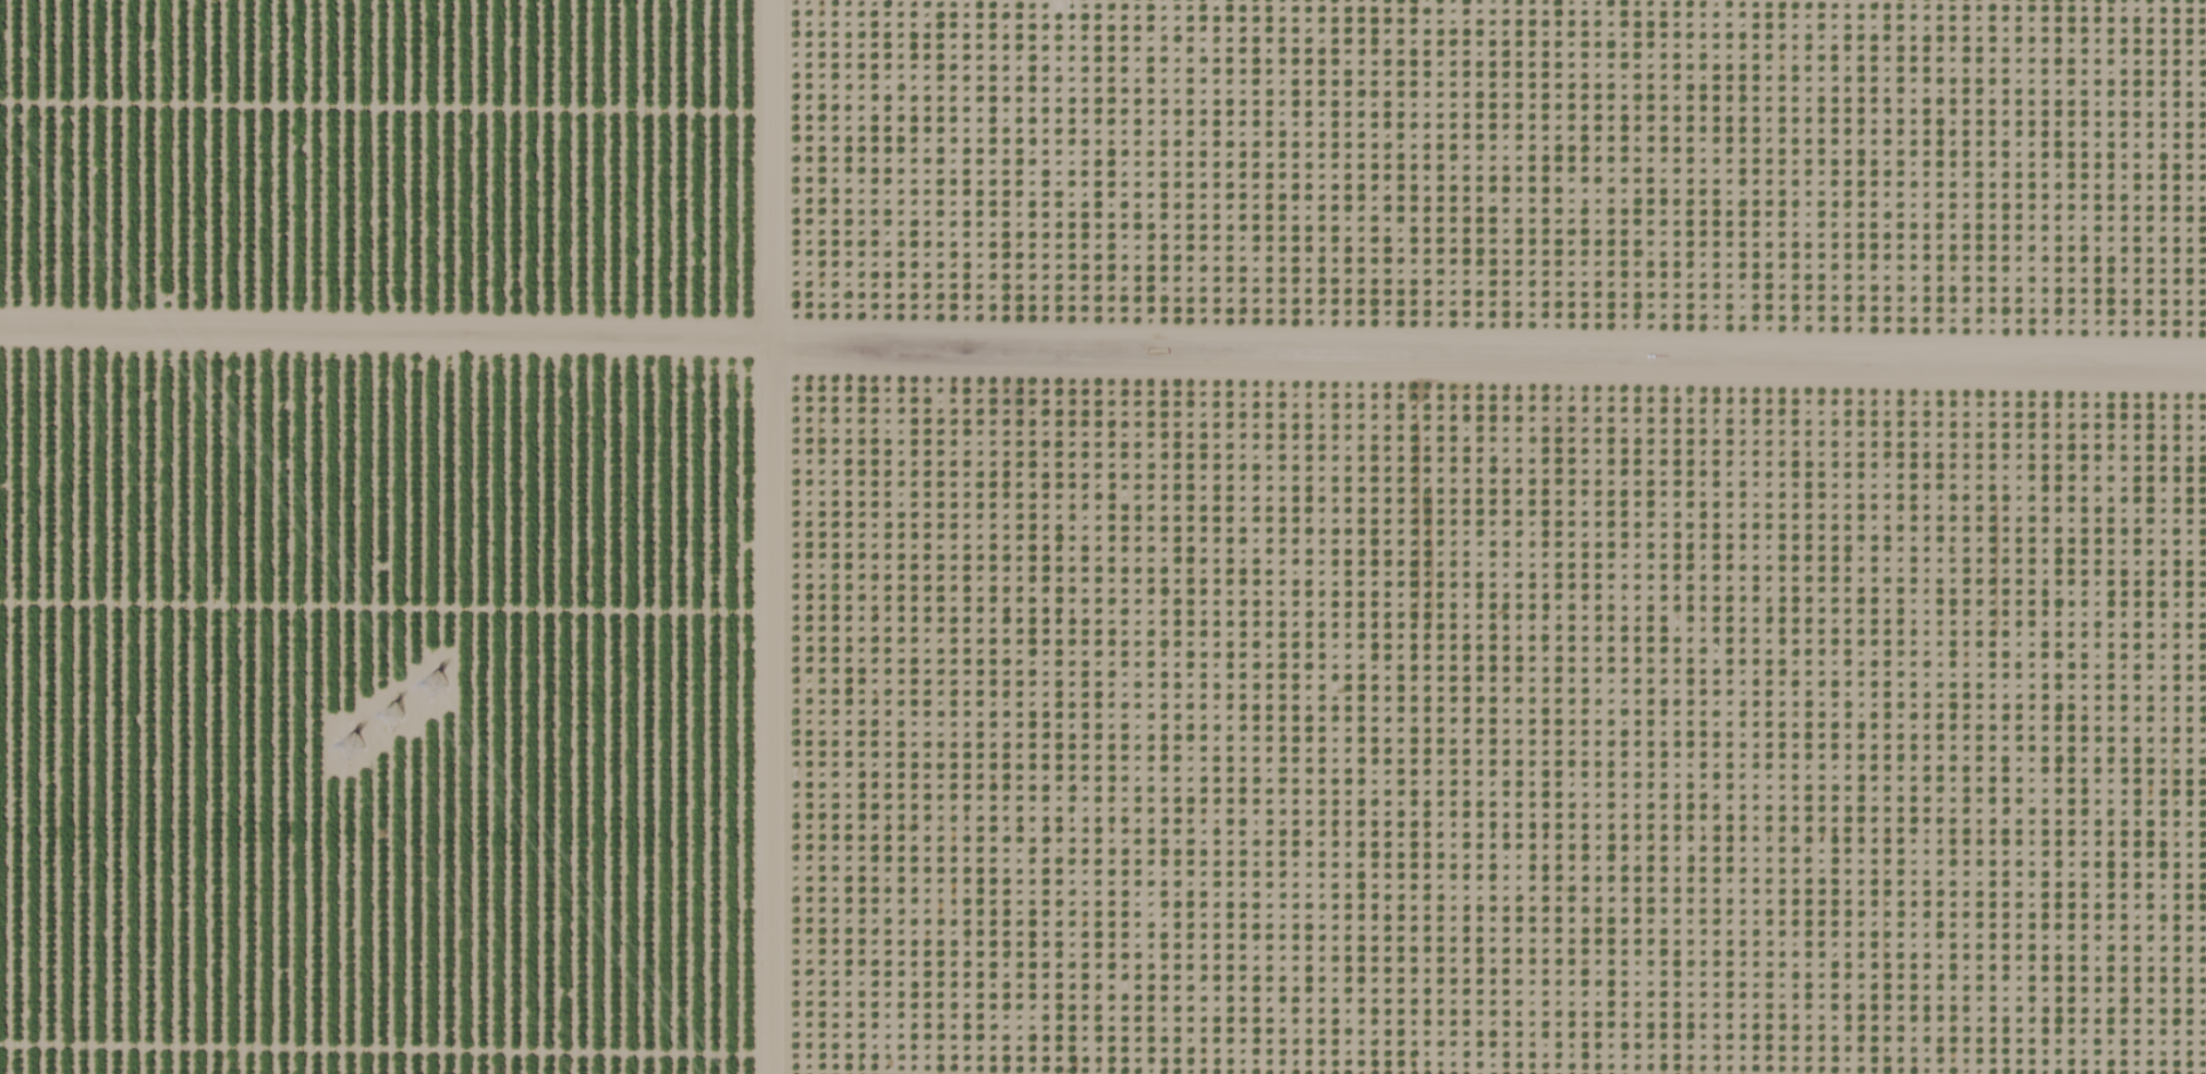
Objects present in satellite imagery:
road: (787, 537)
power tower: (435, 682)
power tower: (395, 707)
power tower: (361, 752)

